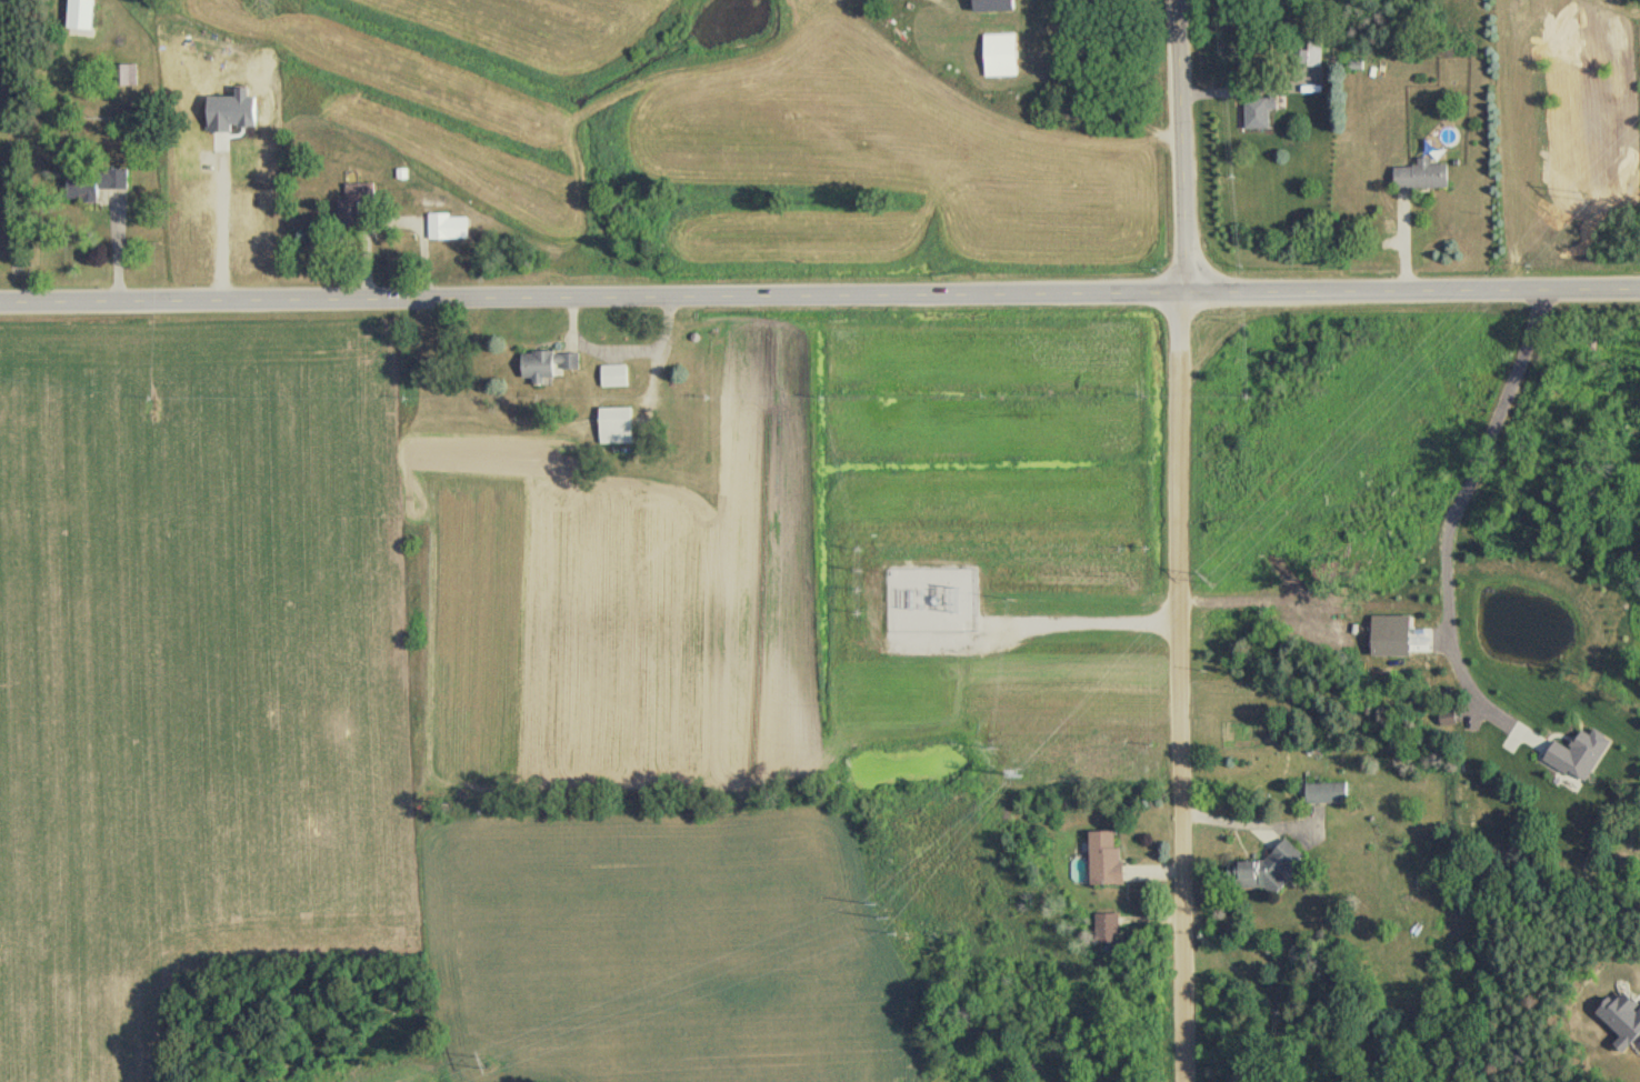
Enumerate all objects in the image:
building: (79, 6)
building: (999, 56)
building: (126, 74)
building: (1258, 113)
building: (1421, 176)
building: (93, 183)
power tower: (1587, 194)
building: (353, 203)
road: (217, 221)
building: (448, 228)
road: (819, 295)
building: (550, 364)
building: (614, 375)
building: (614, 425)
road: (1450, 511)
road: (1180, 540)
power tower: (1212, 579)
power substation: (933, 602)
road: (997, 629)
road: (1033, 631)
power tower: (1022, 775)
building: (1326, 792)
building: (1104, 859)
building: (1263, 868)
power tower: (884, 912)
building: (1106, 928)
power tower: (484, 1059)

